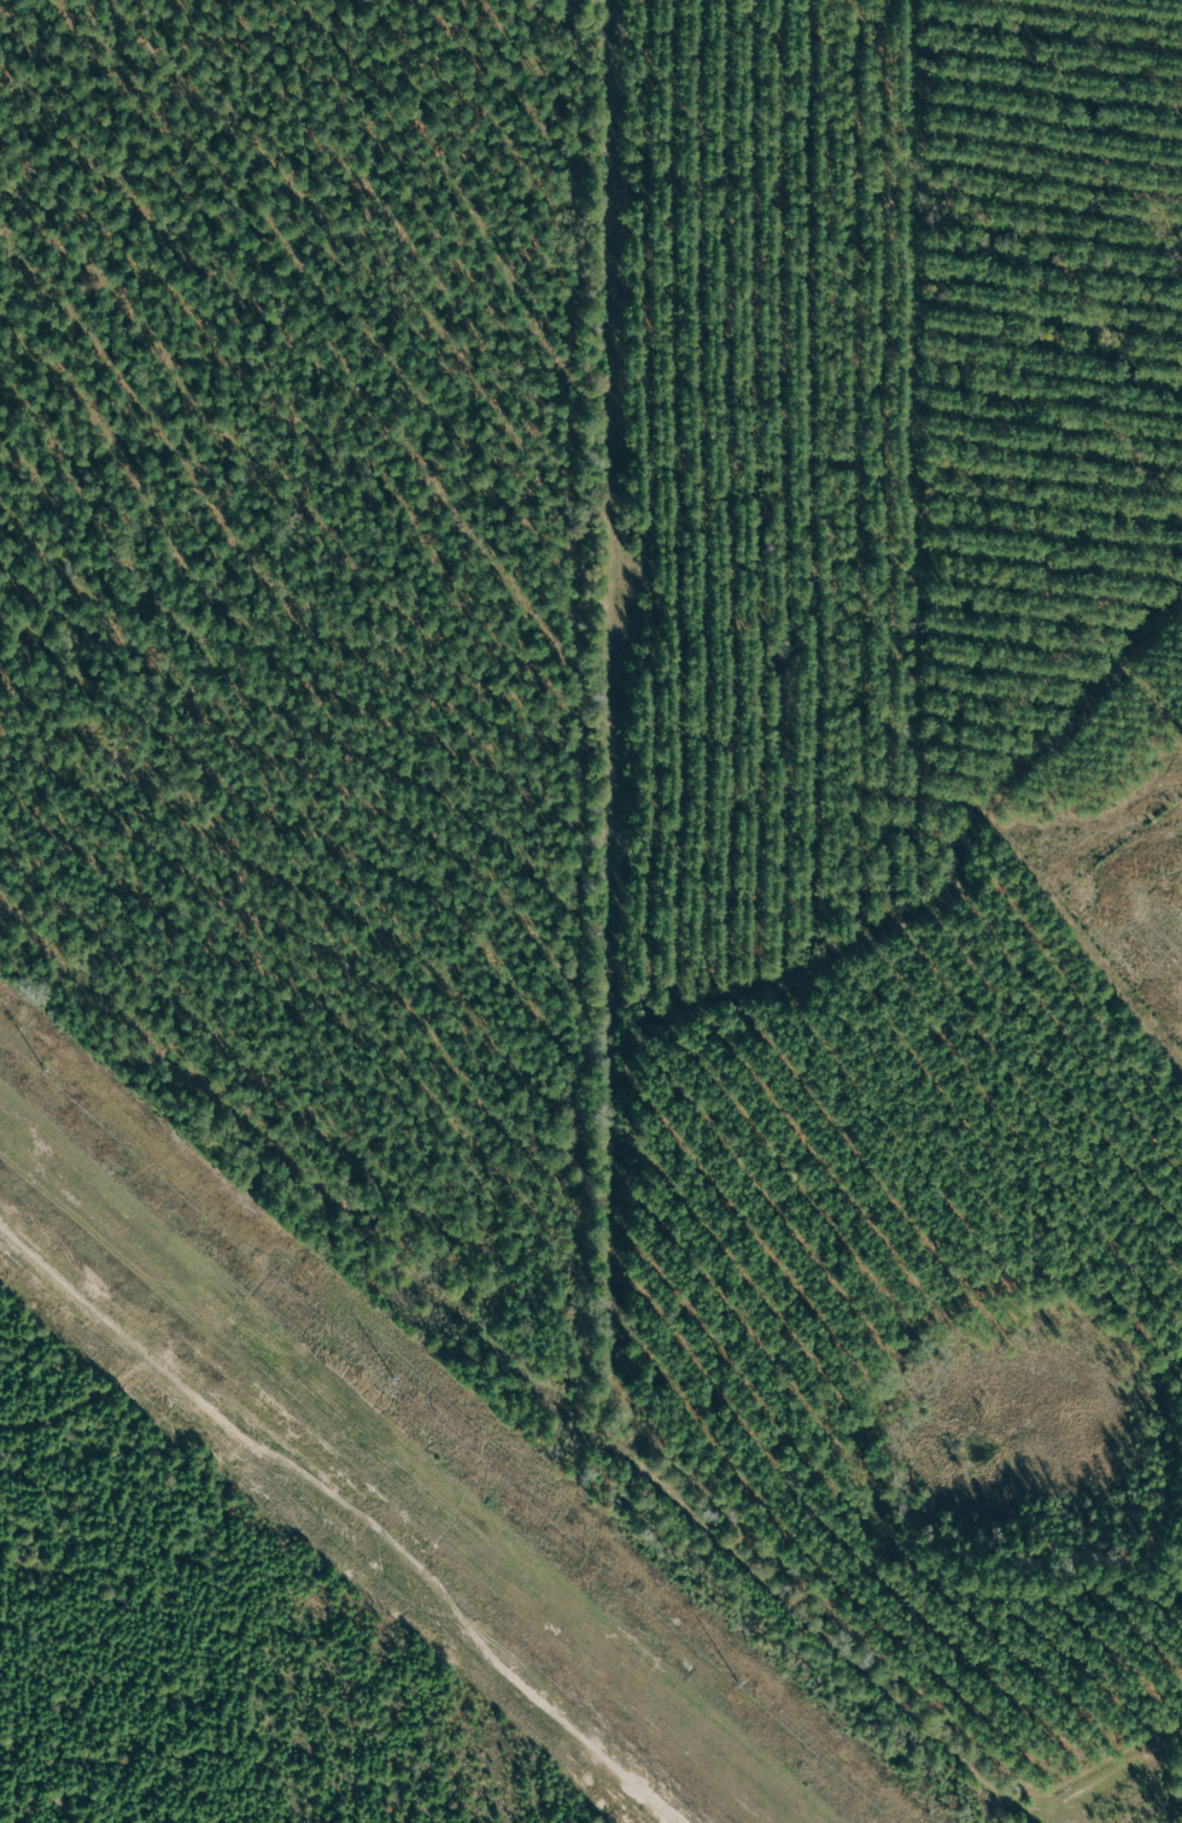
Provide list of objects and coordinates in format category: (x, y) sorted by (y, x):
road: (633, 1038)
power tower: (57, 1073)
power tower: (405, 1383)
power tower: (747, 1689)

